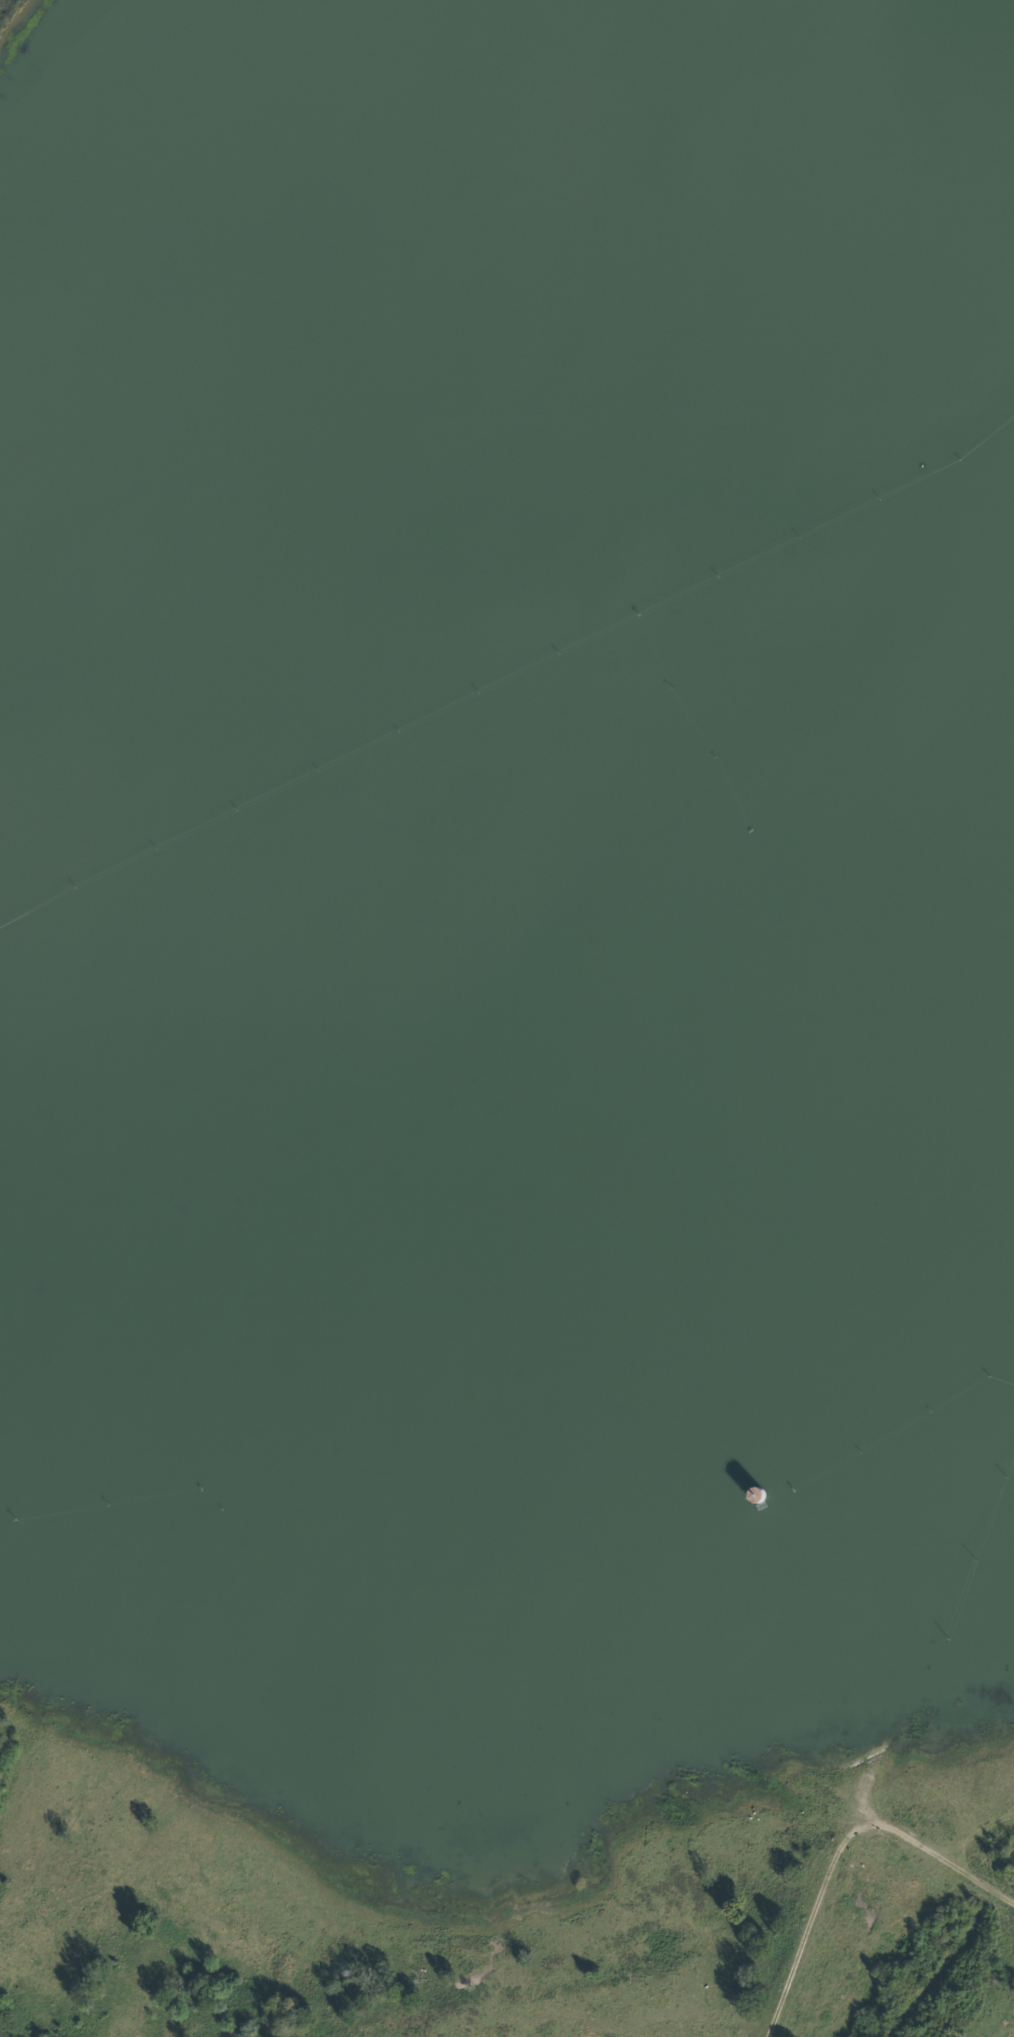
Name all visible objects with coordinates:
road: (933, 1869)
road: (799, 1926)

